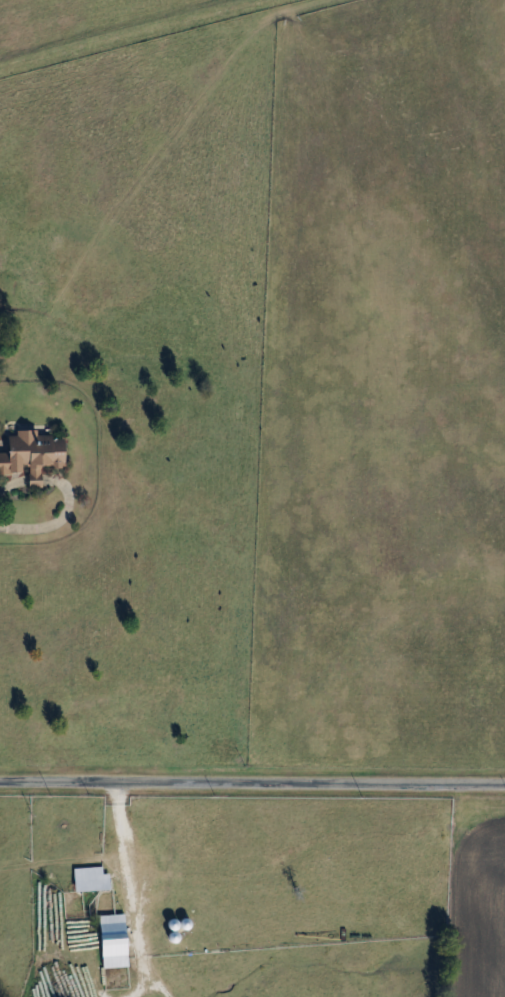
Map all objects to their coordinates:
building: (35, 454)
road: (55, 517)
road: (252, 781)
road: (124, 866)
building: (93, 878)
building: (116, 940)

